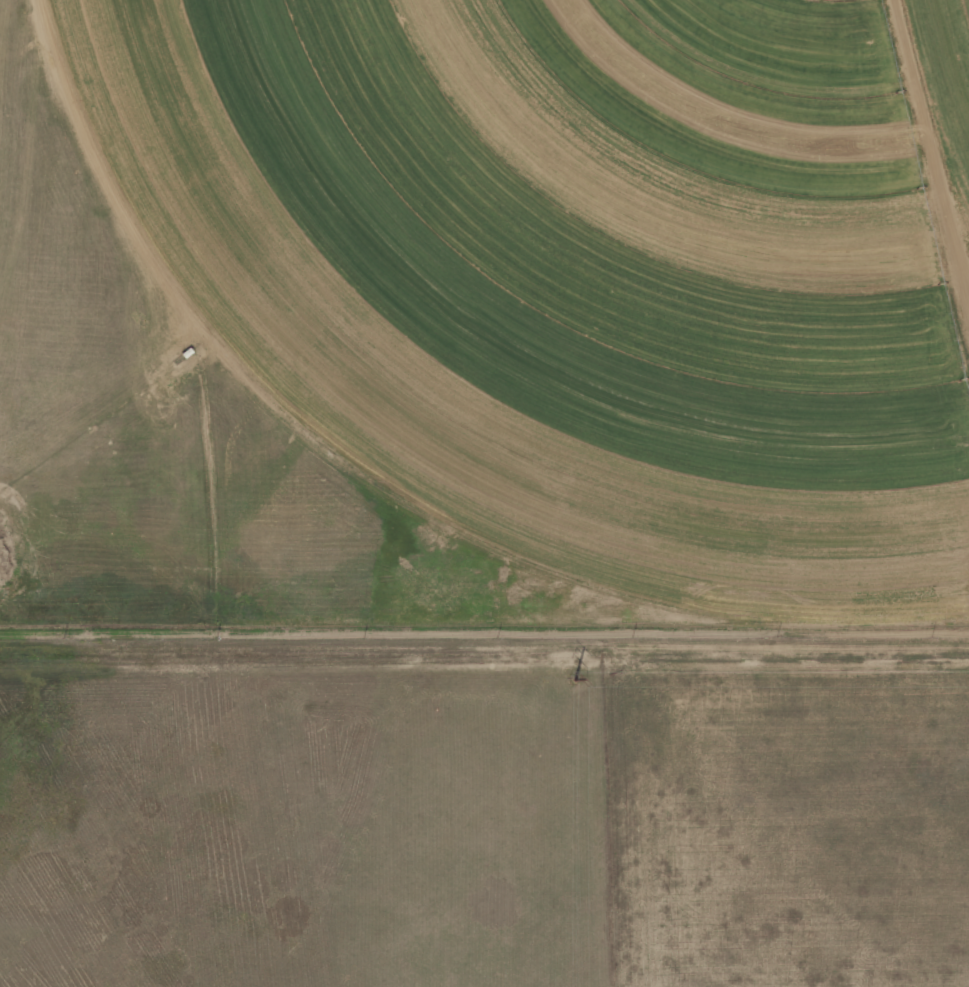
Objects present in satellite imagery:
road: (484, 656)
power tower: (575, 678)

